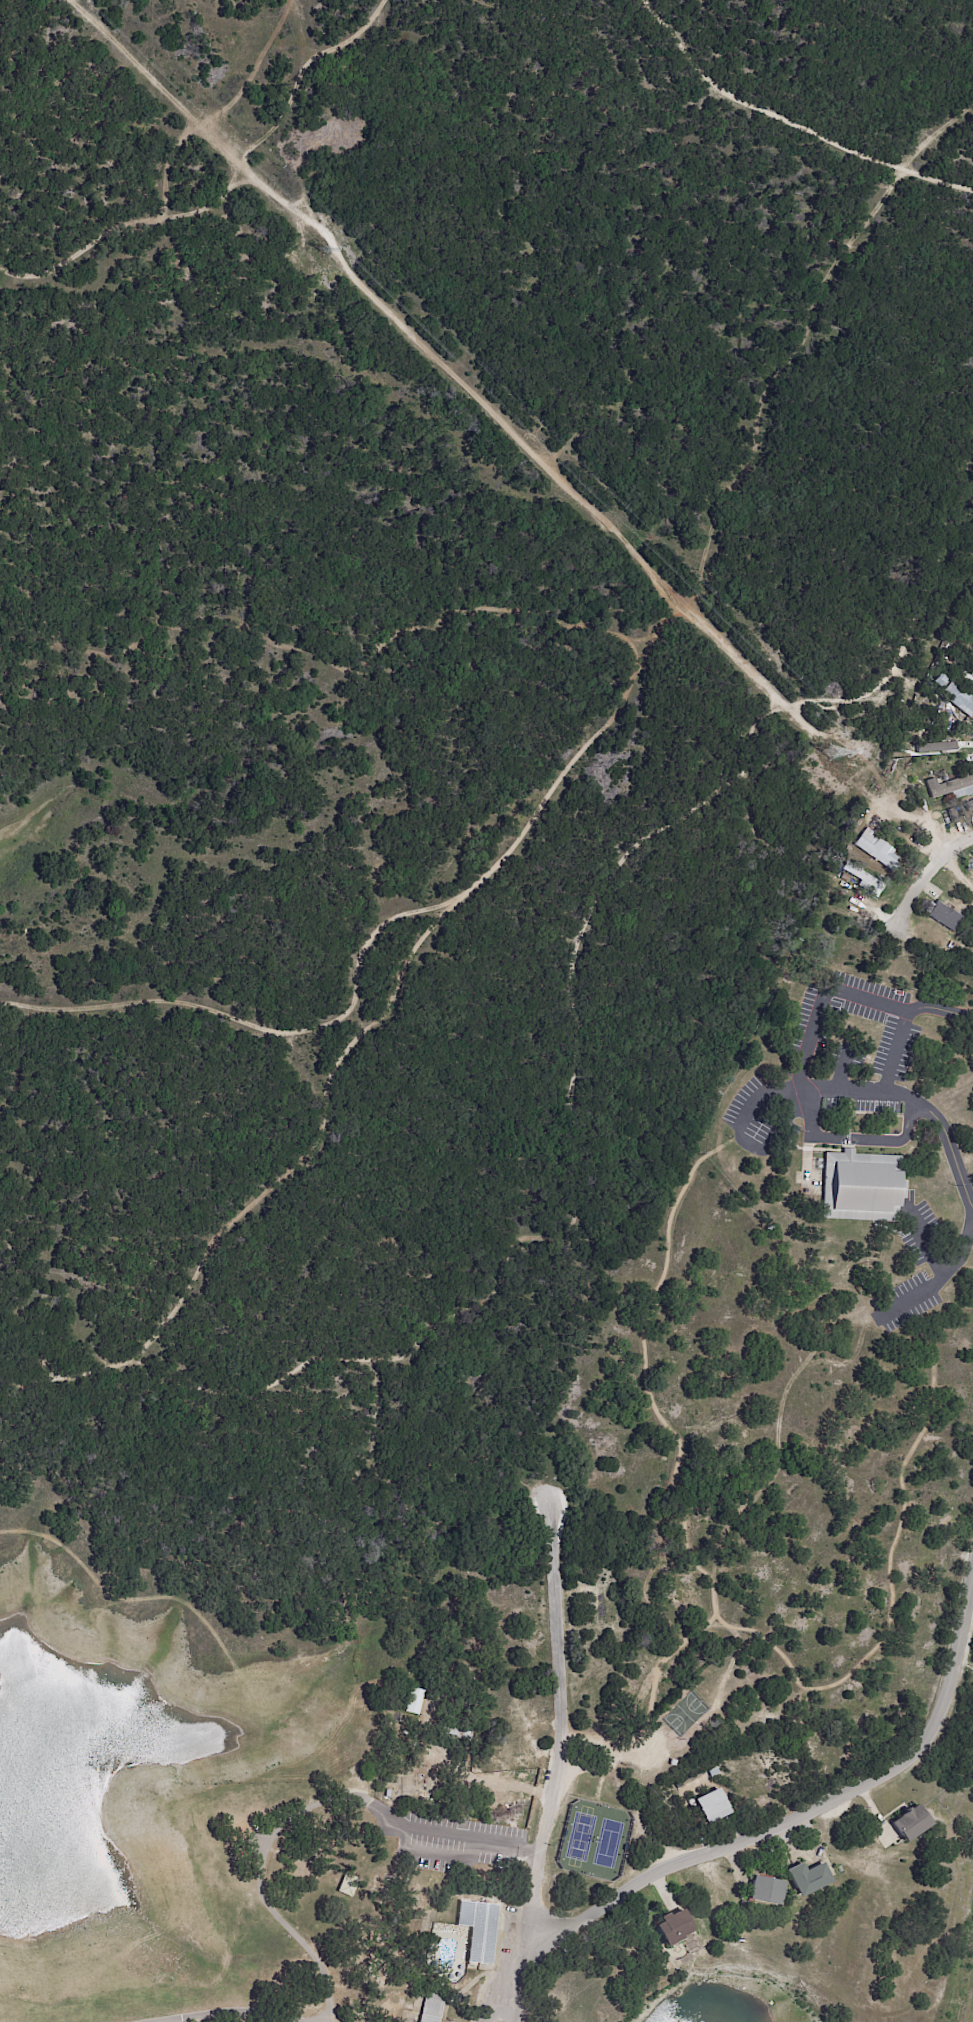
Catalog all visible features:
power tower: (323, 250)
building: (972, 676)
building: (939, 683)
building: (959, 699)
building: (935, 746)
power tower: (841, 764)
building: (954, 788)
building: (966, 807)
building: (875, 847)
building: (846, 878)
building: (866, 879)
road: (921, 881)
building: (944, 916)
road: (811, 1031)
road: (887, 1094)
road: (849, 1139)
building: (860, 1188)
road: (937, 1281)
road: (546, 1704)
building: (454, 1730)
building: (672, 1763)
building: (711, 1806)
road: (809, 1813)
building: (909, 1824)
building: (807, 1879)
building: (348, 1885)
building: (764, 1891)
building: (671, 1928)
building: (479, 1930)
road: (521, 1972)
building: (431, 2008)
road: (506, 2012)
road: (225, 2013)
road: (494, 2013)

